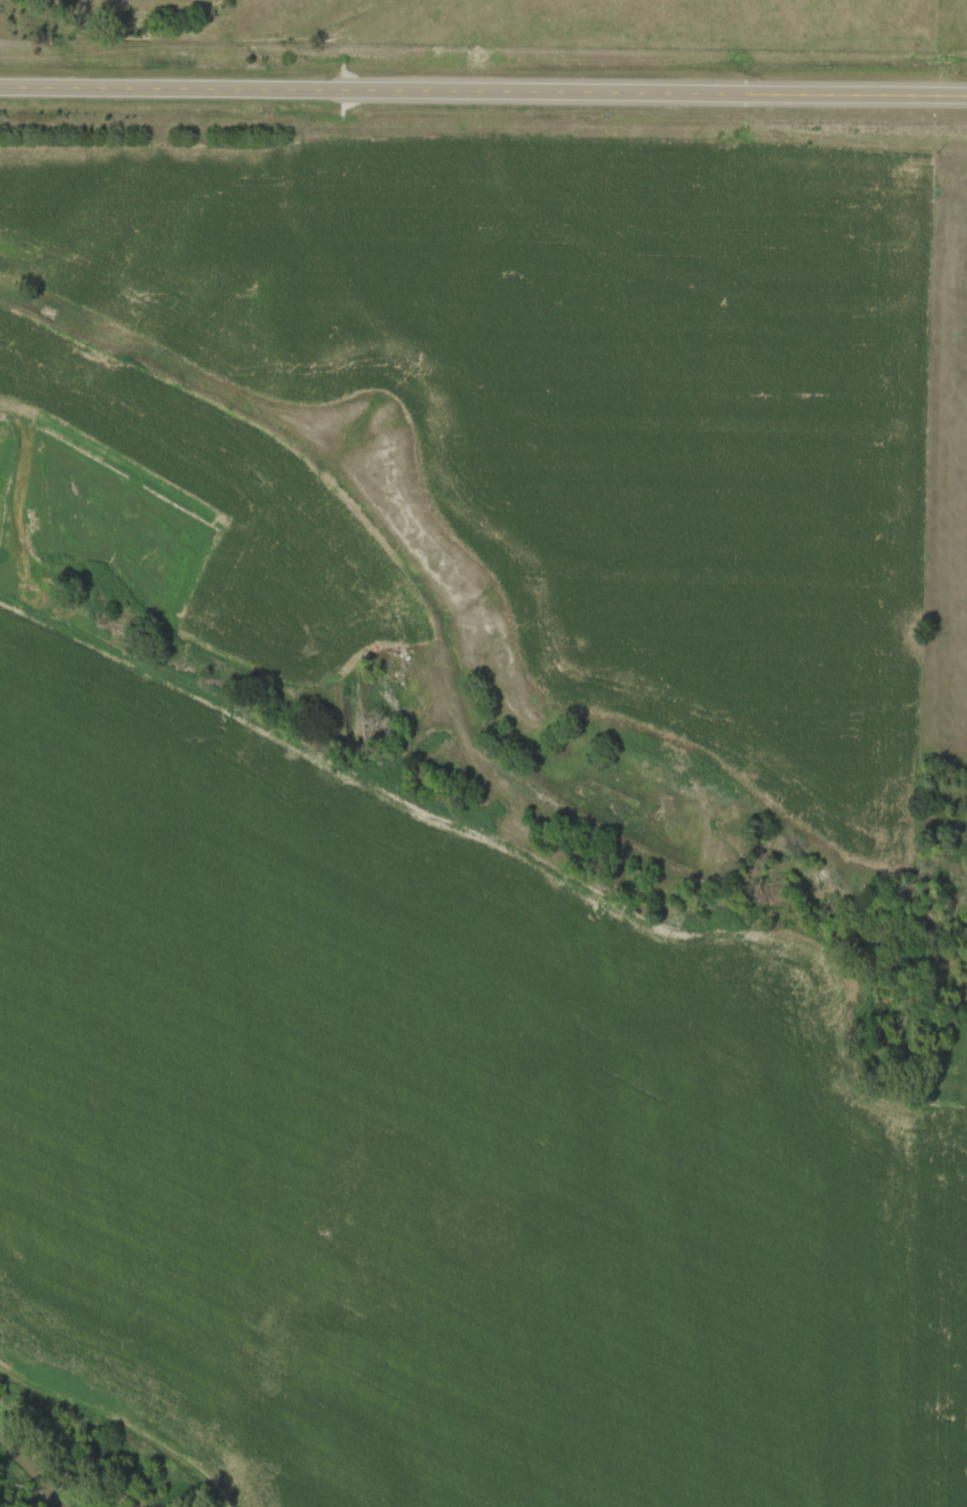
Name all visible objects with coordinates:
road: (483, 91)
crop: (415, 1157)
crop: (943, 1315)

